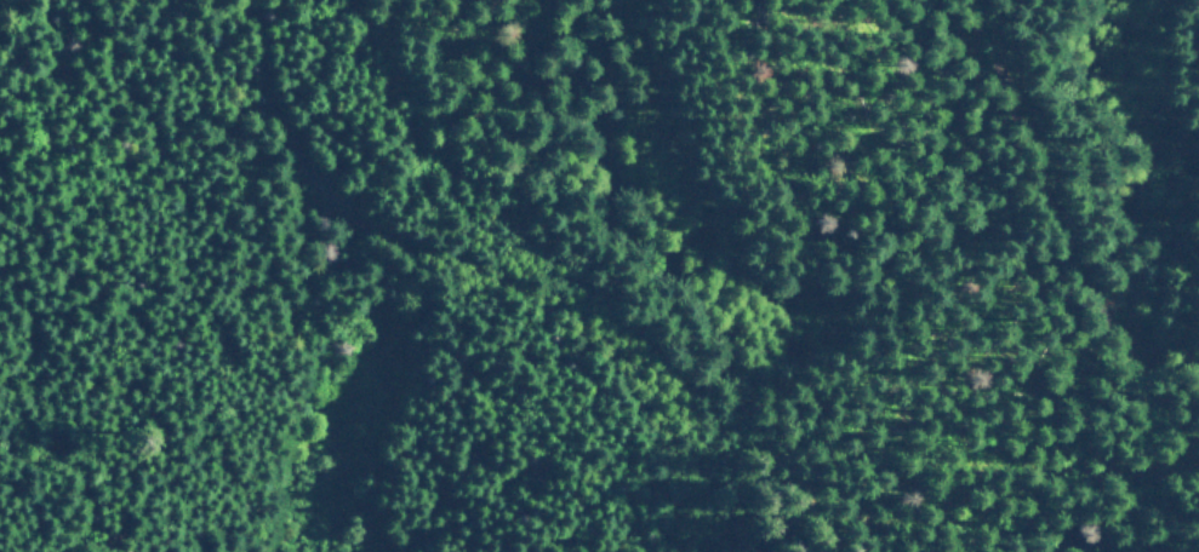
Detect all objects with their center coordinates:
road: (1039, 201)

